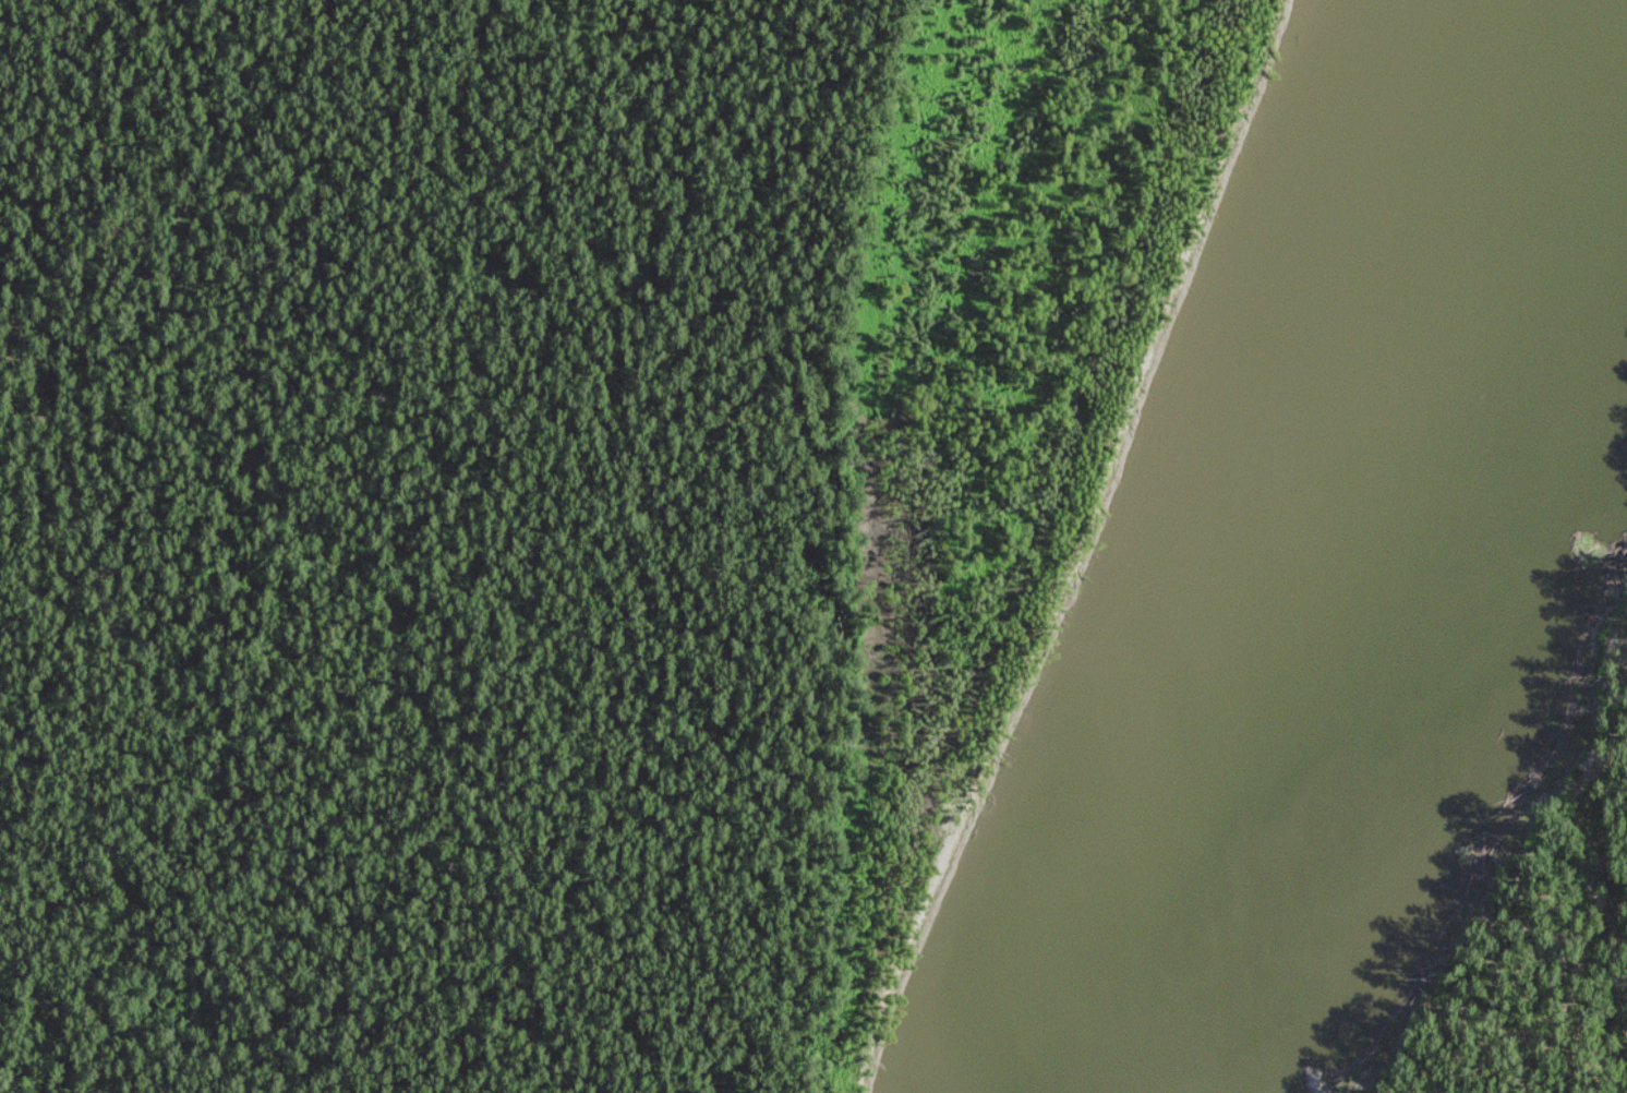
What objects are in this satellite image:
river: (1168, 538)

